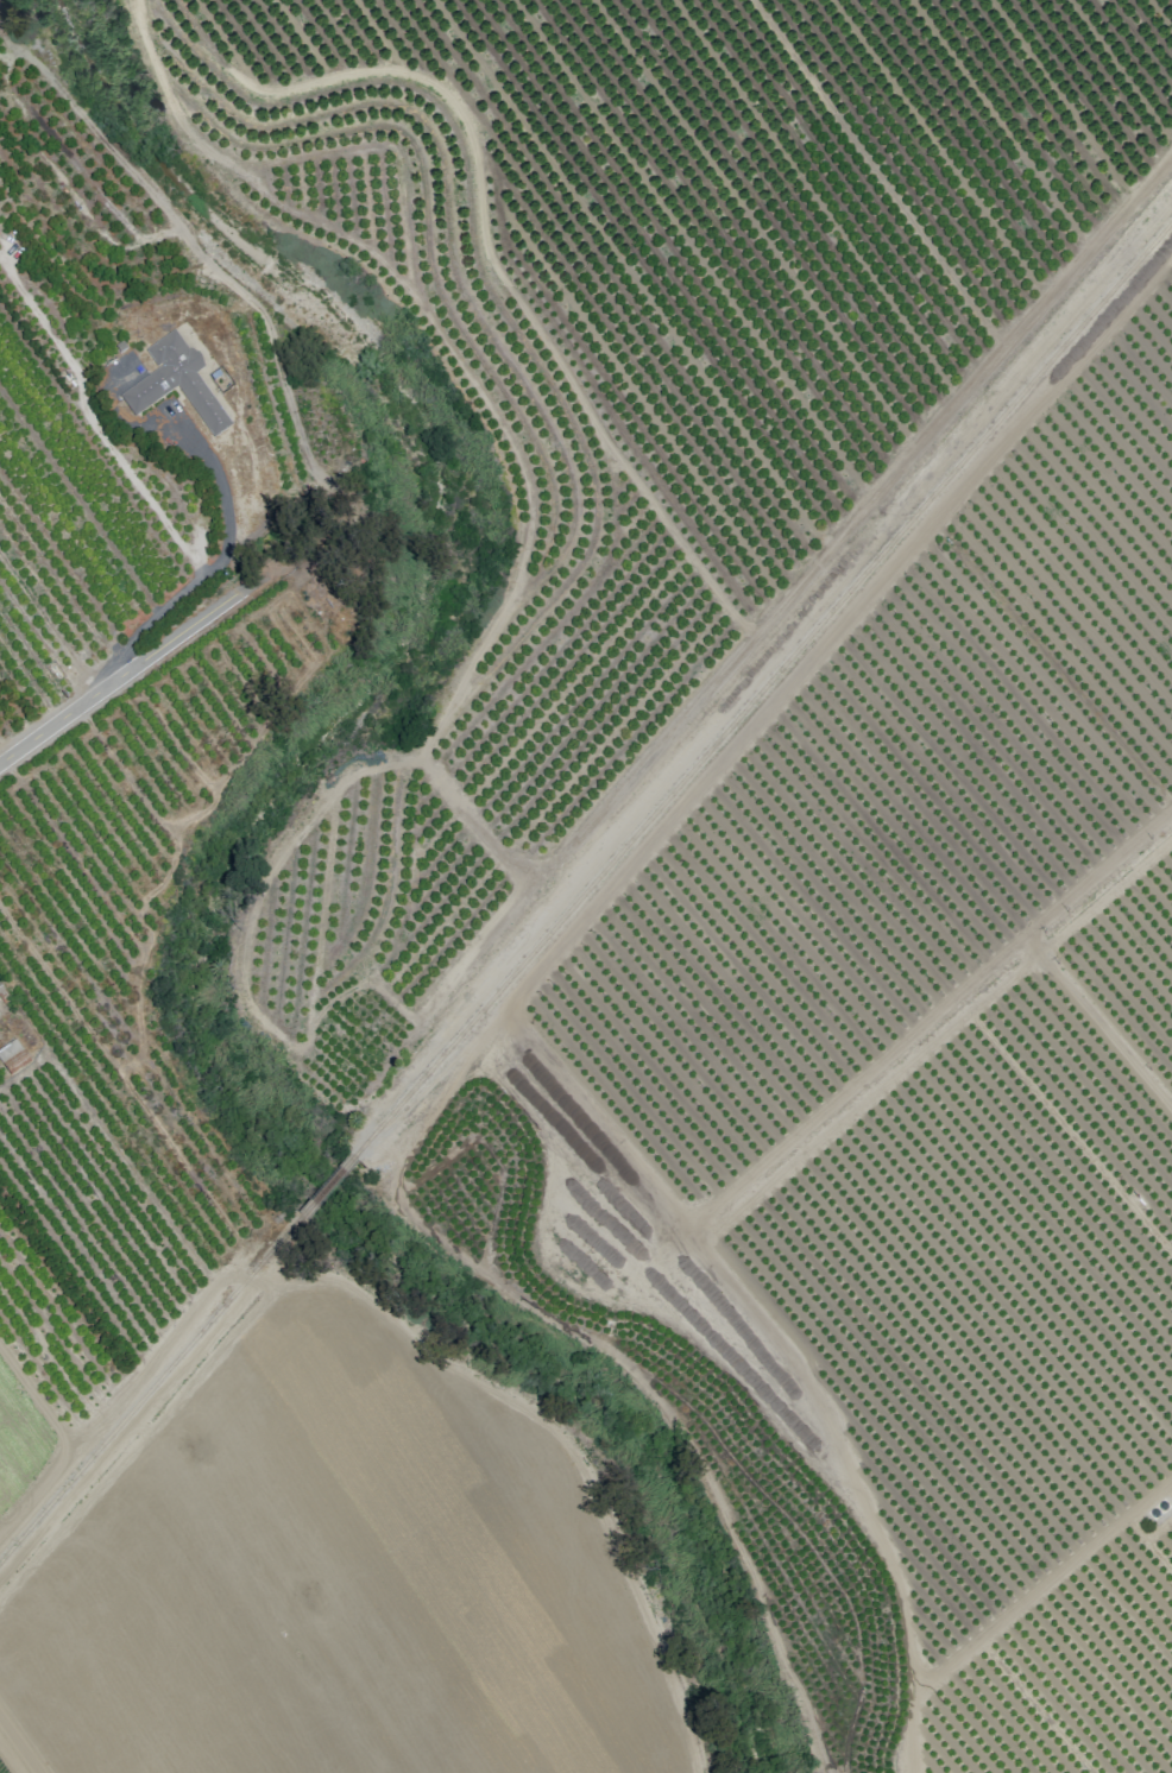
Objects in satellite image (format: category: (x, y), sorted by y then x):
building: (176, 383)
road: (159, 651)
railway: (762, 688)
building: (13, 1058)
crop: (221, 1140)
railway: (326, 1186)
railway: (150, 1387)

